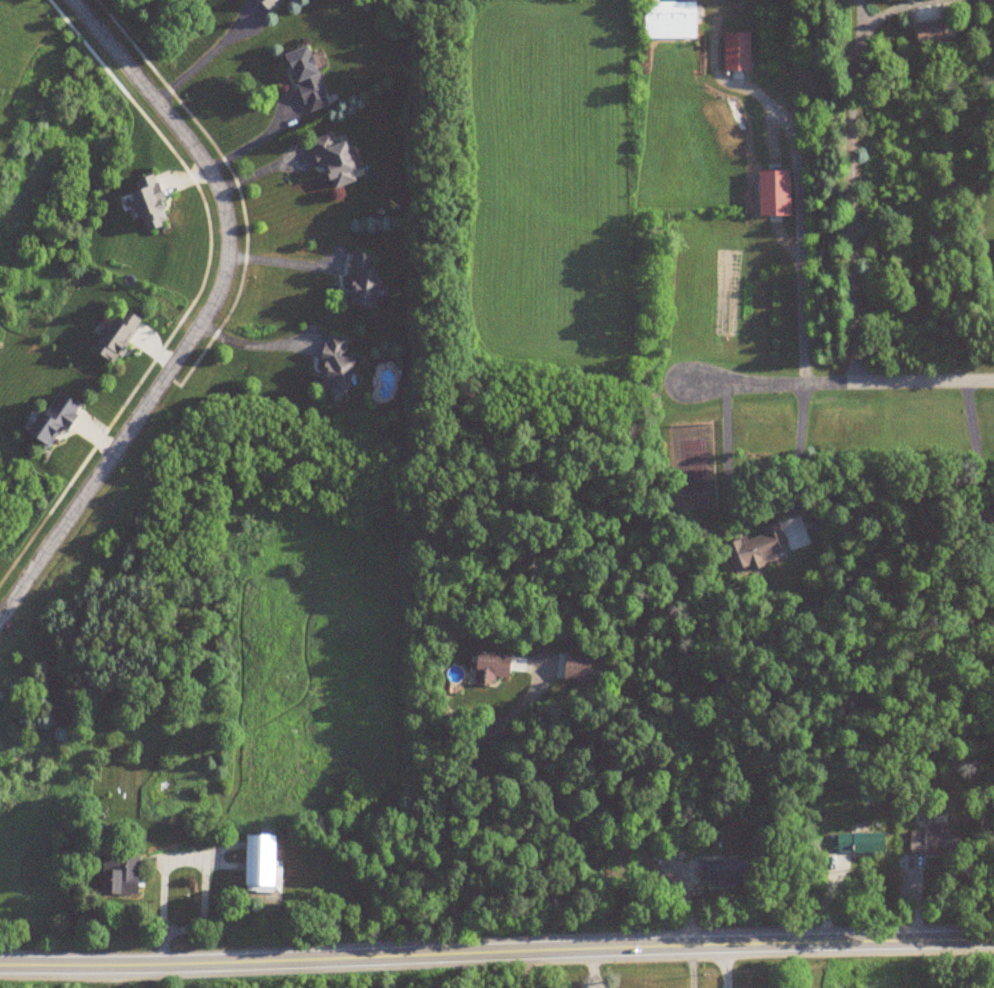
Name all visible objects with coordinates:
building: (270, 3)
road: (888, 11)
building: (669, 20)
building: (929, 32)
road: (860, 40)
building: (736, 51)
road: (208, 56)
building: (306, 79)
road: (257, 140)
building: (335, 162)
road: (799, 180)
building: (773, 192)
building: (149, 203)
road: (853, 230)
road: (282, 263)
building: (362, 281)
road: (208, 314)
building: (116, 335)
road: (251, 346)
building: (334, 366)
road: (842, 380)
building: (52, 418)
road: (972, 441)
road: (761, 506)
building: (985, 522)
building: (753, 549)
building: (491, 667)
building: (577, 668)
road: (447, 803)
building: (860, 842)
building: (934, 842)
road: (179, 861)
building: (261, 865)
building: (717, 871)
building: (120, 875)
road: (496, 953)
road: (728, 966)
road: (520, 970)
park: (277, 983)

